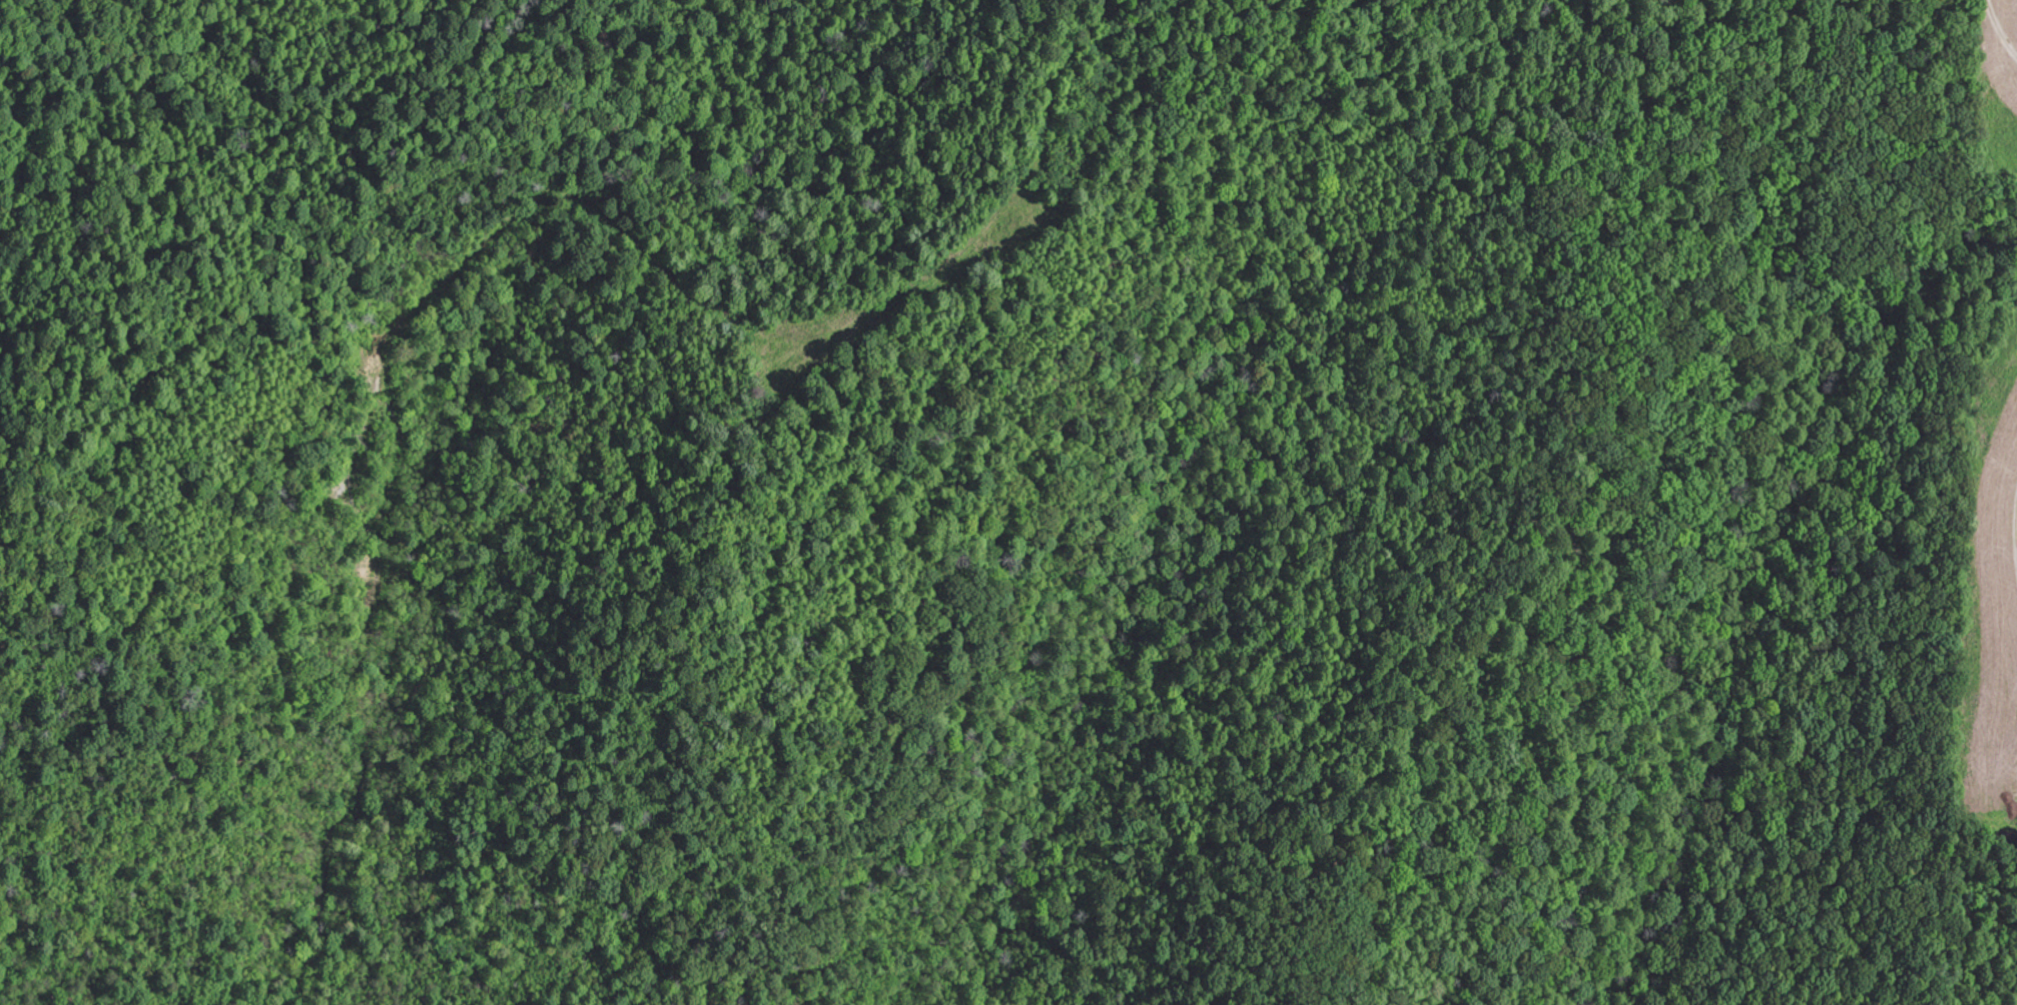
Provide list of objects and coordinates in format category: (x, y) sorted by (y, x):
road: (2001, 29)
road: (2015, 513)

